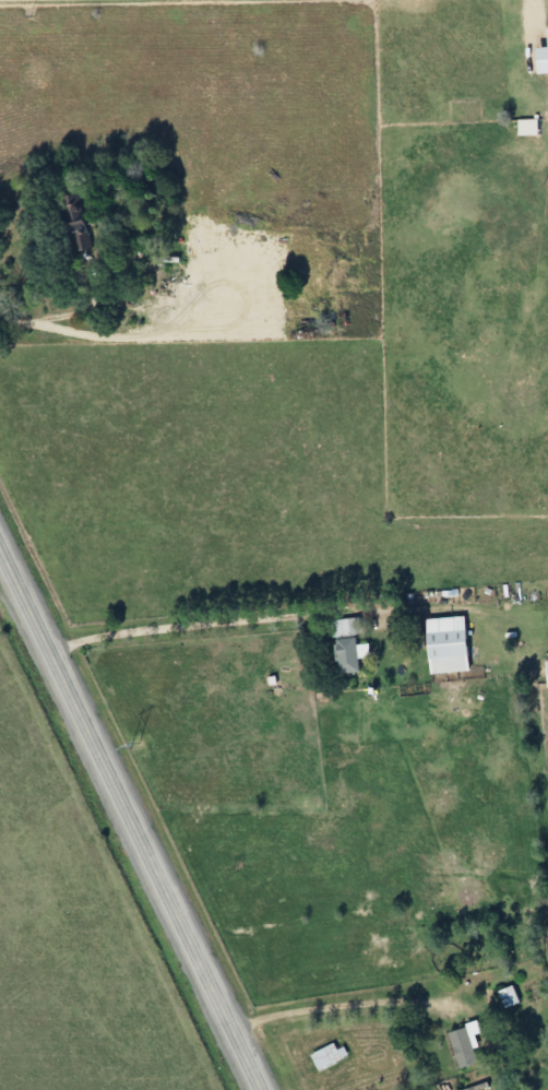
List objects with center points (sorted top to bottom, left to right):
building: (70, 221)
road: (62, 309)
road: (196, 618)
building: (441, 644)
building: (343, 645)
building: (544, 673)
power tower: (134, 745)
road: (130, 820)
building: (502, 996)
building: (526, 997)
road: (334, 998)
building: (456, 1047)
building: (324, 1055)

